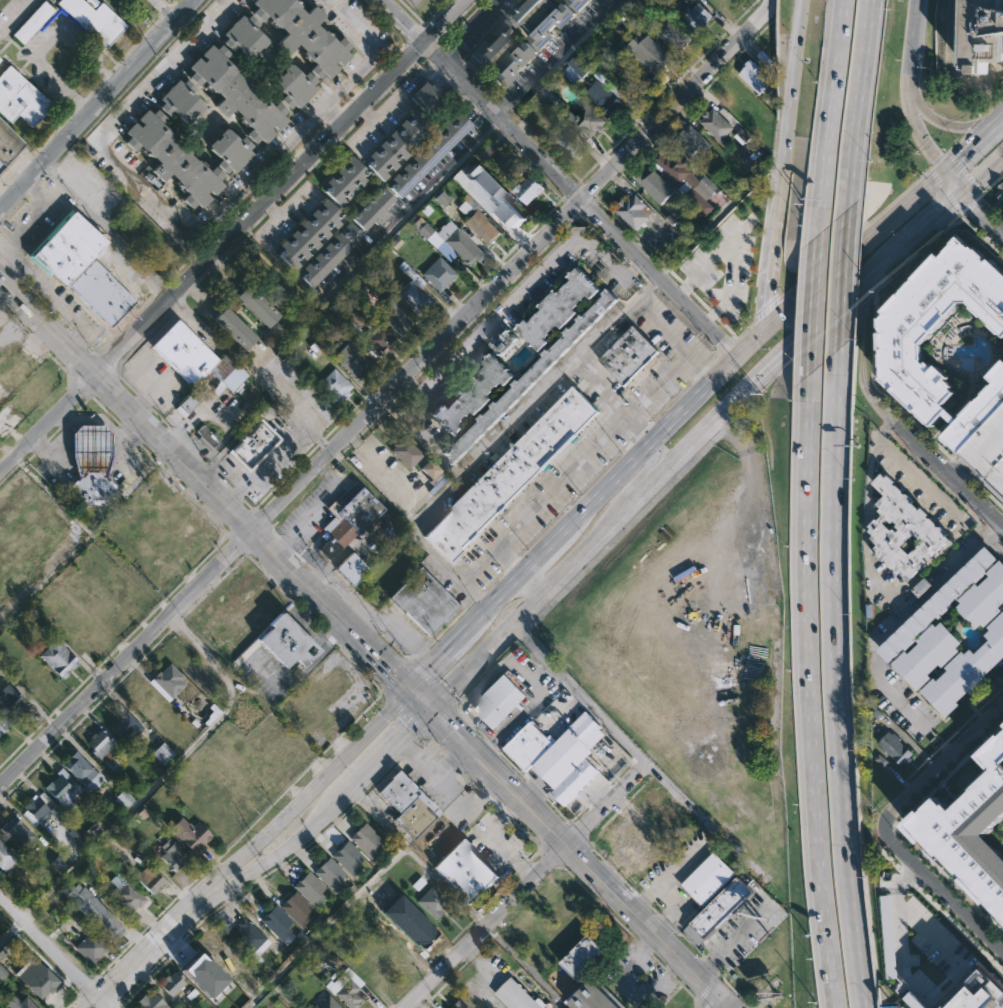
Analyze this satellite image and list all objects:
park: (3, 3)
road: (173, 3)
building: (578, 3)
road: (766, 4)
road: (164, 10)
road: (164, 11)
road: (16, 16)
building: (697, 16)
building: (541, 17)
building: (95, 19)
road: (456, 20)
building: (33, 21)
road: (424, 22)
road: (469, 29)
building: (670, 30)
building: (983, 32)
building: (306, 33)
road: (414, 34)
building: (245, 35)
road: (367, 37)
road: (797, 43)
road: (134, 44)
road: (46, 45)
road: (426, 50)
building: (503, 52)
building: (647, 53)
building: (0, 60)
building: (578, 67)
road: (105, 77)
road: (372, 77)
building: (755, 77)
road: (131, 83)
road: (393, 83)
building: (295, 85)
road: (93, 90)
road: (335, 90)
road: (666, 90)
road: (908, 91)
building: (238, 93)
building: (606, 95)
building: (20, 97)
building: (425, 97)
building: (181, 100)
road: (96, 103)
road: (80, 104)
road: (857, 104)
road: (993, 107)
road: (316, 111)
road: (366, 112)
road: (331, 113)
road: (334, 115)
road: (498, 115)
road: (829, 117)
road: (482, 118)
building: (587, 119)
road: (1002, 119)
road: (943, 122)
building: (715, 123)
road: (489, 126)
road: (974, 126)
road: (55, 133)
building: (562, 138)
building: (691, 139)
road: (652, 141)
building: (398, 143)
building: (9, 144)
road: (953, 144)
road: (974, 146)
building: (231, 149)
building: (430, 154)
building: (175, 158)
road: (935, 159)
road: (318, 160)
road: (560, 162)
building: (507, 164)
road: (528, 164)
road: (783, 166)
road: (964, 171)
road: (50, 172)
traffic signals: (947, 172)
road: (982, 173)
road: (134, 177)
road: (559, 177)
road: (42, 180)
building: (347, 181)
road: (579, 181)
building: (688, 181)
building: (656, 186)
building: (529, 189)
road: (33, 190)
road: (571, 190)
road: (588, 190)
road: (944, 191)
building: (1001, 191)
traffic signals: (962, 192)
road: (981, 195)
road: (562, 198)
road: (914, 198)
road: (246, 203)
road: (43, 204)
road: (970, 204)
road: (972, 206)
road: (269, 209)
road: (283, 209)
building: (373, 209)
road: (13, 210)
building: (509, 212)
building: (634, 212)
road: (579, 213)
road: (579, 215)
road: (930, 218)
road: (268, 225)
building: (481, 228)
road: (704, 228)
road: (856, 232)
road: (229, 234)
building: (310, 234)
road: (982, 236)
road: (247, 237)
road: (114, 241)
building: (448, 241)
building: (66, 247)
building: (331, 254)
road: (914, 255)
road: (882, 259)
road: (218, 264)
road: (7, 267)
road: (665, 267)
road: (635, 268)
road: (520, 269)
road: (830, 269)
road: (8, 270)
building: (438, 274)
road: (204, 275)
road: (674, 276)
building: (280, 278)
road: (840, 279)
road: (768, 282)
road: (684, 286)
road: (522, 288)
building: (413, 289)
road: (158, 290)
road: (190, 290)
building: (100, 293)
road: (56, 298)
road: (862, 298)
road: (698, 300)
road: (833, 300)
road: (43, 301)
road: (812, 303)
building: (259, 305)
road: (176, 306)
building: (558, 307)
road: (767, 309)
road: (677, 312)
road: (712, 313)
traffic signals: (780, 315)
building: (395, 316)
road: (614, 316)
road: (12, 317)
road: (442, 318)
road: (791, 321)
building: (331, 322)
road: (123, 326)
road: (725, 326)
building: (236, 327)
traffic signals: (803, 328)
road: (742, 331)
road: (78, 336)
road: (758, 336)
building: (376, 340)
road: (36, 342)
road: (139, 342)
building: (903, 344)
road: (724, 345)
road: (91, 349)
road: (804, 349)
road: (861, 353)
building: (626, 355)
building: (197, 357)
road: (53, 359)
road: (712, 359)
building: (354, 361)
road: (106, 364)
building: (13, 367)
road: (726, 368)
road: (699, 373)
building: (530, 376)
road: (410, 381)
road: (128, 385)
building: (336, 385)
building: (33, 390)
road: (879, 390)
road: (85, 391)
building: (471, 395)
road: (382, 397)
road: (642, 398)
road: (144, 401)
road: (669, 402)
building: (189, 403)
road: (81, 404)
road: (290, 405)
road: (104, 411)
road: (382, 411)
road: (738, 412)
building: (8, 418)
road: (161, 418)
road: (66, 420)
road: (884, 428)
road: (641, 431)
road: (241, 432)
road: (53, 433)
road: (177, 434)
road: (129, 436)
road: (352, 440)
road: (321, 442)
road: (352, 442)
building: (253, 445)
road: (40, 446)
building: (90, 450)
gas station: (90, 450)
road: (344, 450)
building: (988, 451)
parking garage: (988, 451)
building: (406, 452)
road: (642, 452)
road: (29, 457)
road: (339, 457)
road: (21, 464)
road: (264, 464)
road: (334, 464)
road: (207, 465)
road: (961, 469)
road: (10, 470)
road: (326, 470)
road: (643, 471)
road: (928, 471)
road: (963, 472)
road: (8, 473)
building: (511, 473)
road: (947, 474)
road: (387, 476)
road: (284, 477)
road: (204, 486)
road: (182, 490)
building: (90, 491)
road: (237, 494)
road: (546, 494)
road: (987, 494)
road: (576, 496)
road: (298, 499)
road: (247, 505)
road: (312, 508)
road: (975, 517)
road: (614, 518)
building: (351, 519)
road: (261, 520)
road: (983, 525)
road: (623, 527)
building: (162, 530)
building: (906, 532)
road: (275, 534)
road: (991, 534)
road: (992, 534)
road: (999, 540)
building: (27, 542)
road: (237, 544)
road: (286, 544)
road: (548, 548)
road: (511, 562)
road: (506, 563)
building: (352, 568)
road: (536, 579)
building: (122, 590)
building: (984, 599)
road: (497, 600)
building: (425, 602)
road: (351, 605)
building: (939, 605)
road: (457, 616)
road: (888, 630)
road: (519, 632)
building: (82, 635)
building: (290, 643)
road: (113, 650)
building: (928, 654)
building: (59, 658)
road: (438, 661)
road: (481, 669)
building: (967, 671)
road: (123, 677)
road: (836, 678)
building: (41, 680)
building: (169, 680)
road: (809, 690)
traffic signals: (409, 691)
road: (577, 694)
building: (323, 697)
building: (501, 699)
building: (145, 702)
building: (13, 703)
road: (456, 705)
traffic signals: (427, 710)
road: (458, 710)
road: (467, 722)
building: (3, 725)
road: (962, 725)
building: (127, 727)
road: (480, 736)
road: (432, 741)
building: (529, 746)
road: (492, 748)
building: (897, 748)
road: (387, 749)
road: (404, 750)
building: (569, 750)
building: (104, 752)
road: (454, 761)
road: (507, 762)
road: (941, 762)
road: (622, 767)
road: (307, 768)
building: (263, 770)
building: (83, 771)
road: (431, 773)
road: (378, 775)
road: (522, 776)
road: (473, 778)
building: (575, 782)
building: (62, 789)
road: (311, 790)
road: (537, 791)
building: (398, 792)
road: (597, 793)
road: (485, 795)
road: (358, 798)
road: (495, 805)
road: (604, 805)
building: (35, 808)
road: (557, 810)
road: (577, 813)
road: (506, 815)
building: (416, 816)
building: (618, 826)
road: (897, 827)
road: (576, 831)
building: (971, 833)
building: (190, 834)
road: (526, 834)
building: (19, 835)
road: (492, 839)
building: (367, 841)
road: (287, 847)
building: (646, 847)
road: (566, 849)
road: (596, 850)
road: (574, 852)
building: (173, 854)
road: (535, 854)
building: (5, 857)
road: (417, 857)
road: (550, 857)
building: (349, 859)
road: (523, 867)
road: (906, 869)
road: (614, 870)
building: (466, 872)
road: (667, 873)
building: (330, 875)
building: (150, 879)
building: (708, 879)
road: (629, 887)
building: (310, 889)
road: (941, 891)
road: (497, 893)
road: (231, 897)
building: (128, 899)
road: (642, 899)
building: (432, 902)
road: (598, 903)
road: (942, 906)
building: (297, 909)
road: (654, 911)
building: (718, 911)
building: (95, 913)
road: (475, 915)
road: (899, 918)
road: (671, 919)
building: (276, 922)
road: (665, 922)
building: (410, 923)
road: (323, 926)
road: (483, 926)
building: (249, 937)
road: (450, 941)
road: (689, 941)
road: (484, 942)
road: (983, 946)
road: (642, 947)
building: (91, 948)
road: (153, 948)
road: (54, 953)
building: (222, 954)
road: (470, 956)
building: (585, 958)
road: (998, 961)
road: (657, 962)
road: (711, 962)
road: (524, 964)
road: (49, 966)
road: (668, 973)
building: (37, 978)
parking lot: (639, 978)
road: (477, 979)
building: (172, 982)
road: (443, 983)
road: (89, 986)
road: (706, 986)
building: (348, 987)
road: (629, 988)
road: (684, 989)
road: (732, 989)
building: (982, 993)
road: (107, 994)
building: (520, 996)
building: (592, 996)
road: (85, 1000)
building: (151, 1001)
building: (18, 1002)
building: (327, 1003)
building: (460, 1004)
road: (695, 1005)
road: (697, 1005)
road: (717, 1005)
road: (115, 1006)
building: (902, 1007)

